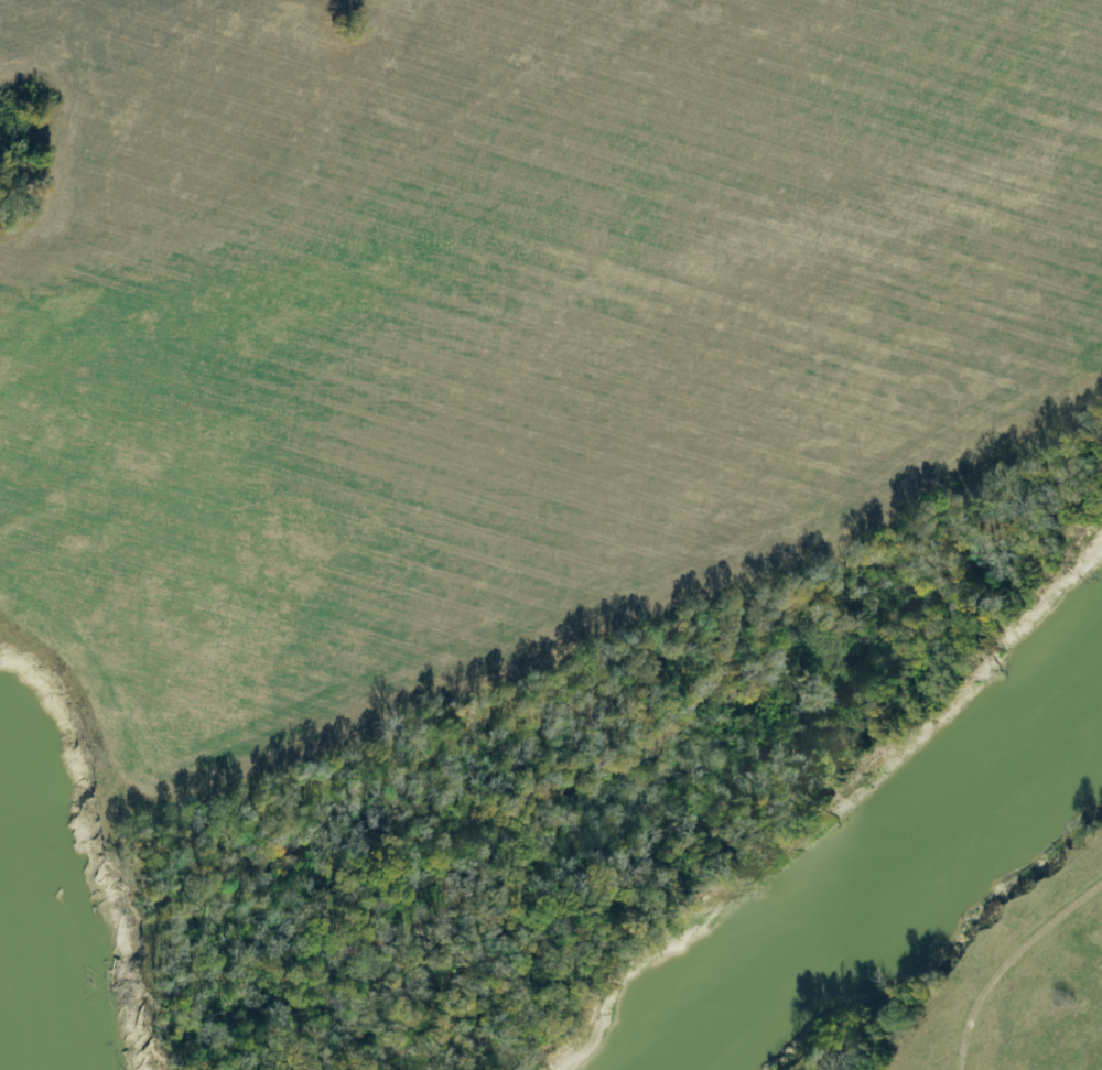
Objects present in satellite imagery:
river: (895, 863)

